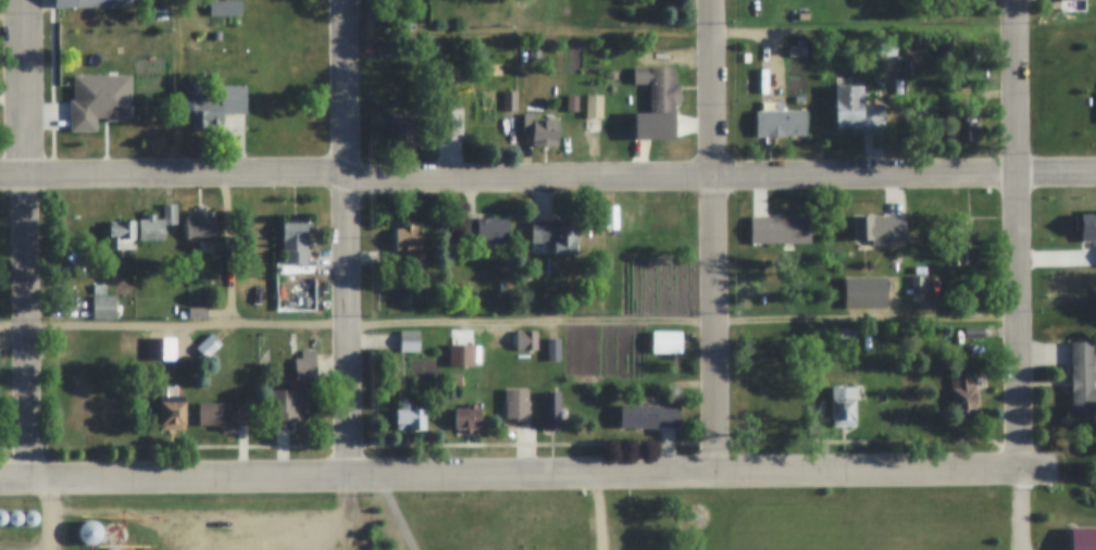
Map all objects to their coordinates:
building: (94, 3)
building: (383, 17)
building: (91, 36)
building: (216, 36)
building: (389, 49)
building: (887, 49)
building: (533, 54)
building: (612, 76)
building: (82, 82)
building: (659, 89)
building: (233, 100)
building: (509, 101)
building: (572, 103)
building: (966, 103)
building: (594, 107)
building: (857, 111)
building: (201, 114)
building: (448, 124)
building: (781, 124)
building: (496, 129)
building: (407, 130)
building: (540, 130)
building: (967, 132)
building: (576, 134)
road: (547, 178)
building: (610, 213)
building: (170, 215)
building: (1089, 223)
building: (877, 228)
building: (151, 229)
building: (200, 229)
building: (486, 230)
road: (1022, 234)
building: (122, 236)
road: (718, 236)
building: (555, 237)
road: (344, 238)
building: (962, 240)
road: (23, 241)
building: (295, 242)
building: (413, 254)
building: (298, 274)
building: (917, 285)
building: (99, 289)
building: (66, 300)
building: (103, 308)
building: (197, 314)
building: (184, 315)
road: (511, 324)
building: (974, 333)
building: (757, 334)
building: (846, 334)
building: (471, 336)
building: (88, 338)
building: (409, 340)
building: (526, 340)
building: (162, 341)
building: (667, 342)
building: (208, 347)
building: (552, 350)
building: (66, 354)
building: (461, 355)
building: (304, 365)
building: (1082, 380)
building: (963, 396)
building: (516, 405)
building: (763, 405)
building: (843, 405)
building: (288, 408)
building: (551, 411)
building: (90, 413)
building: (224, 415)
building: (173, 416)
building: (468, 416)
building: (648, 416)
building: (410, 417)
road: (526, 475)
building: (642, 509)
road: (596, 512)
road: (395, 514)
road: (58, 515)
building: (1, 517)
silo: (1, 517)
building: (13, 517)
silo: (13, 517)
building: (29, 518)
silo: (29, 518)
building: (650, 525)
building: (89, 533)
silo: (89, 533)
building: (1084, 539)
building: (112, 549)
silo: (112, 549)

